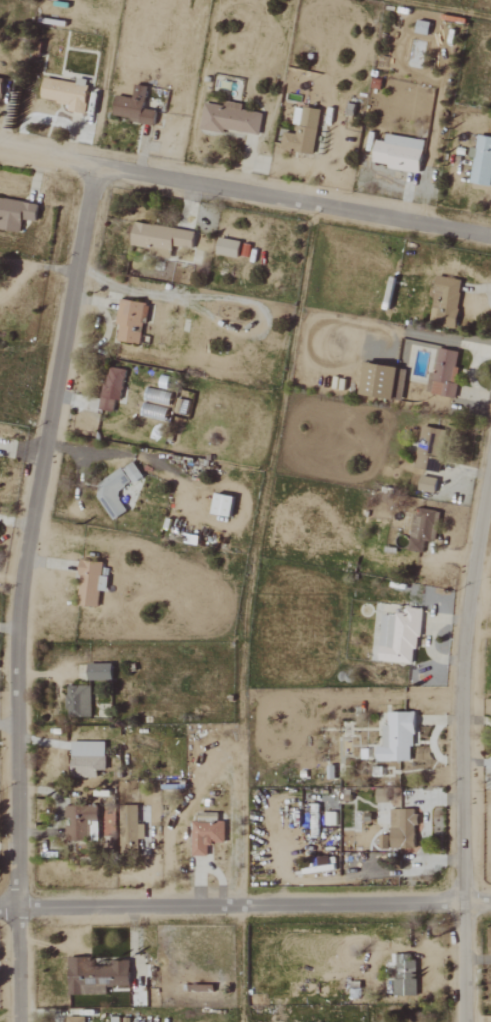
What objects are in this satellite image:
building: (421, 27)
building: (0, 83)
building: (65, 93)
building: (133, 107)
building: (229, 118)
building: (301, 131)
building: (397, 153)
building: (482, 161)
road: (245, 189)
building: (15, 213)
building: (158, 238)
building: (226, 247)
road: (37, 264)
road: (223, 295)
building: (445, 300)
building: (130, 322)
building: (443, 373)
building: (381, 381)
building: (111, 388)
building: (154, 404)
building: (182, 407)
building: (429, 449)
building: (131, 473)
building: (426, 484)
building: (111, 493)
building: (221, 505)
building: (422, 529)
building: (89, 583)
road: (23, 588)
building: (398, 637)
building: (98, 672)
building: (77, 701)
building: (395, 739)
road: (460, 755)
building: (86, 758)
building: (380, 795)
building: (313, 815)
building: (329, 819)
building: (78, 822)
building: (401, 828)
building: (129, 831)
building: (205, 836)
building: (383, 842)
road: (245, 903)
building: (403, 973)
building: (94, 976)
building: (199, 988)
building: (73, 1019)

